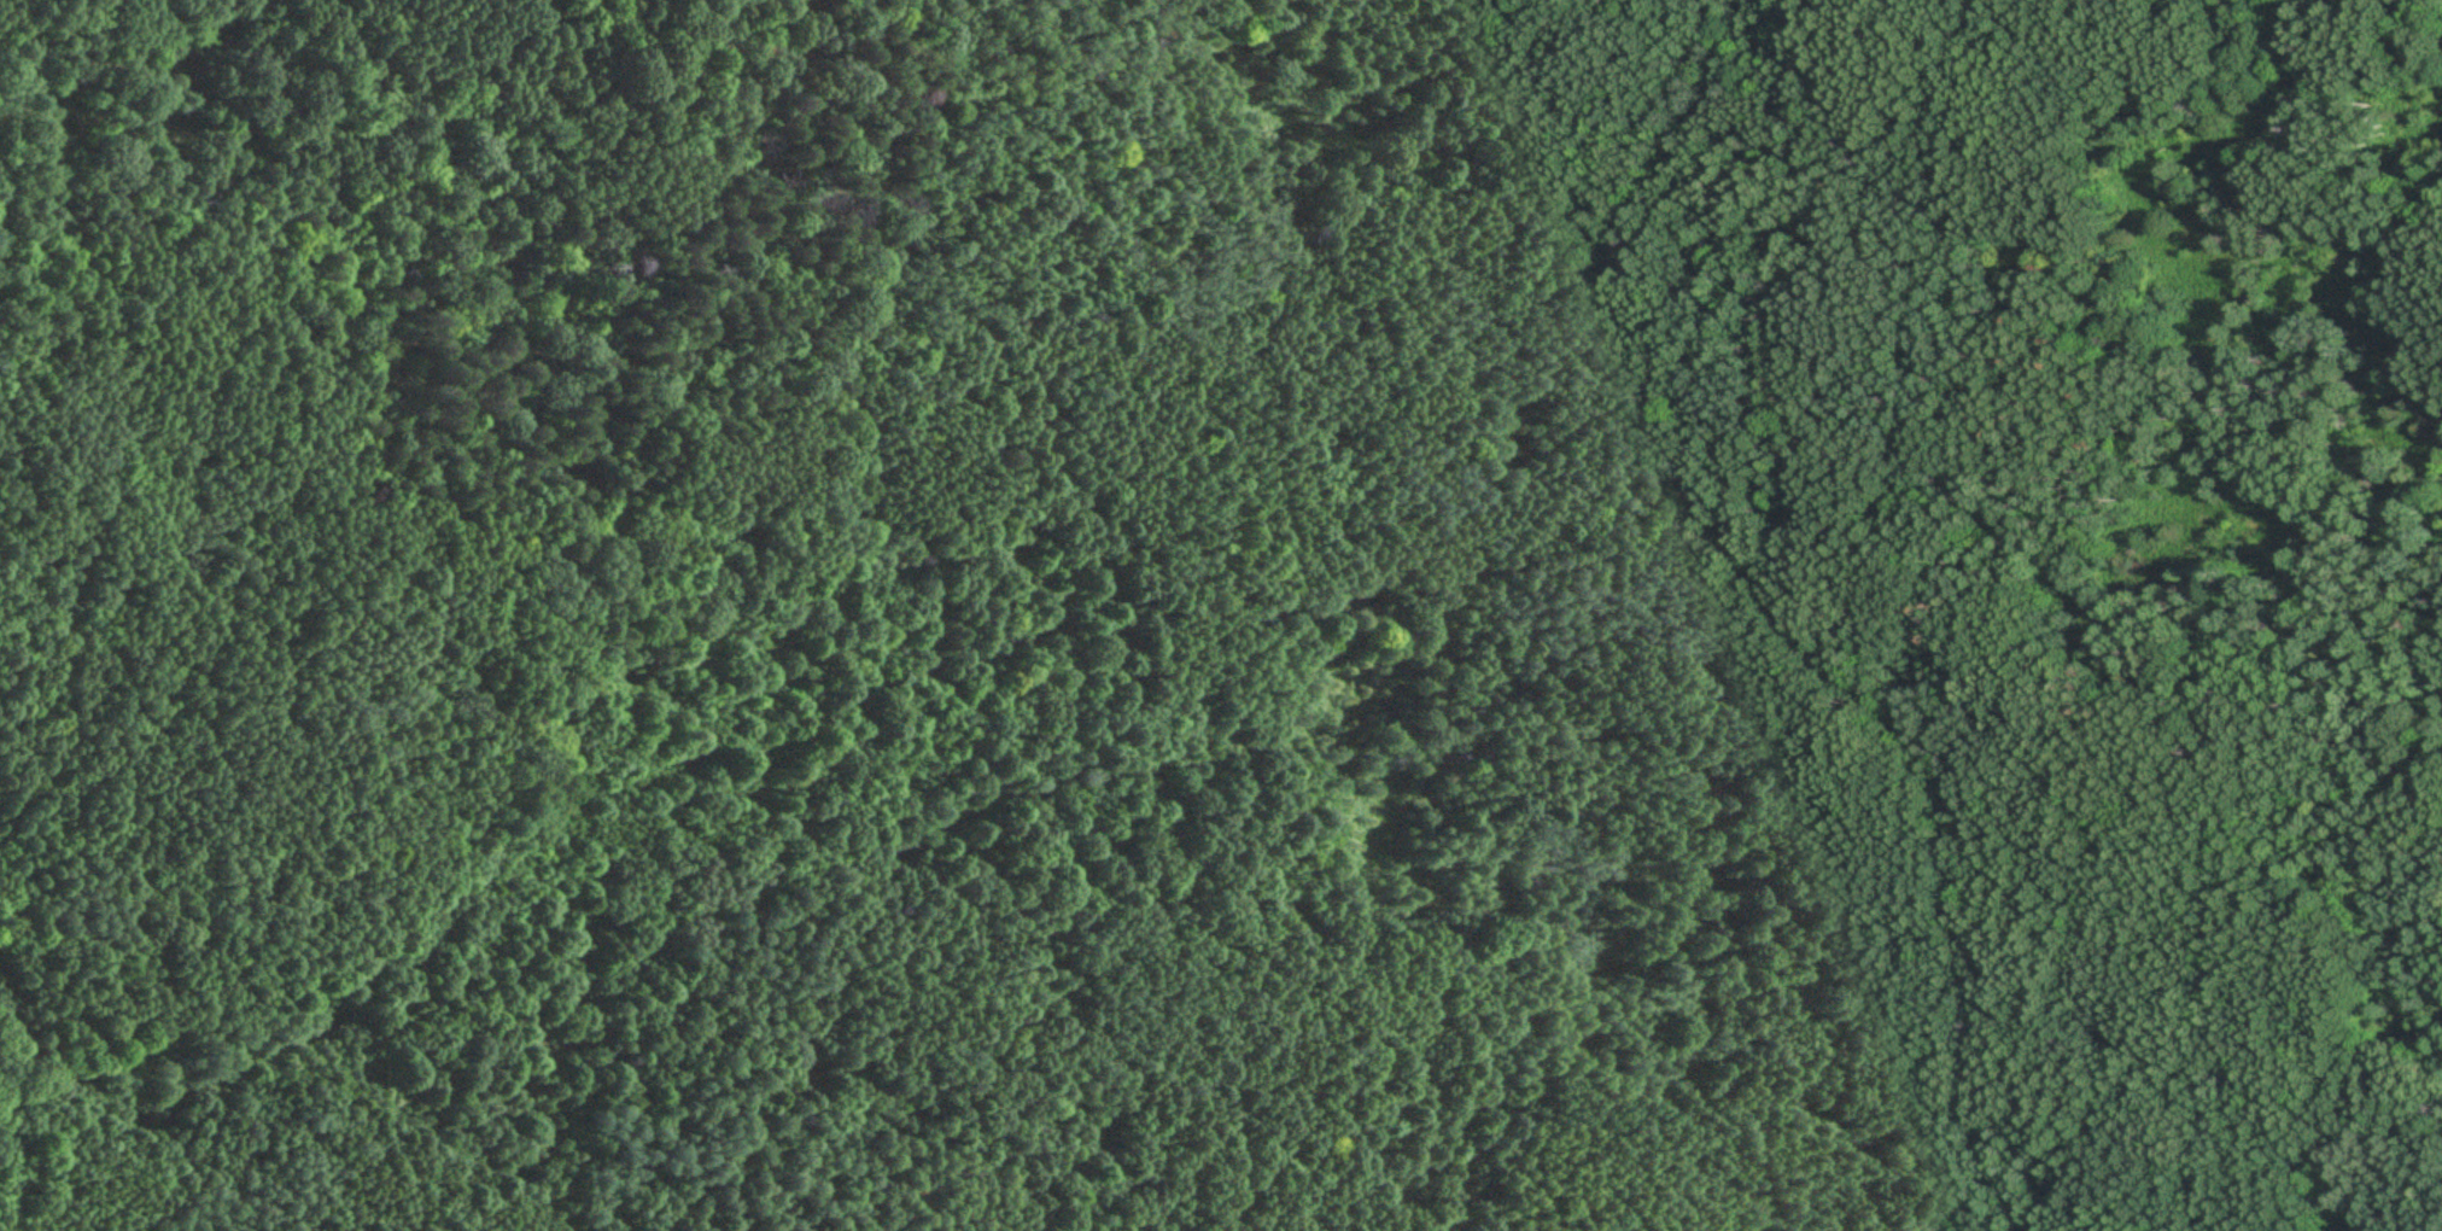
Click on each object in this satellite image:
road: (1805, 607)

